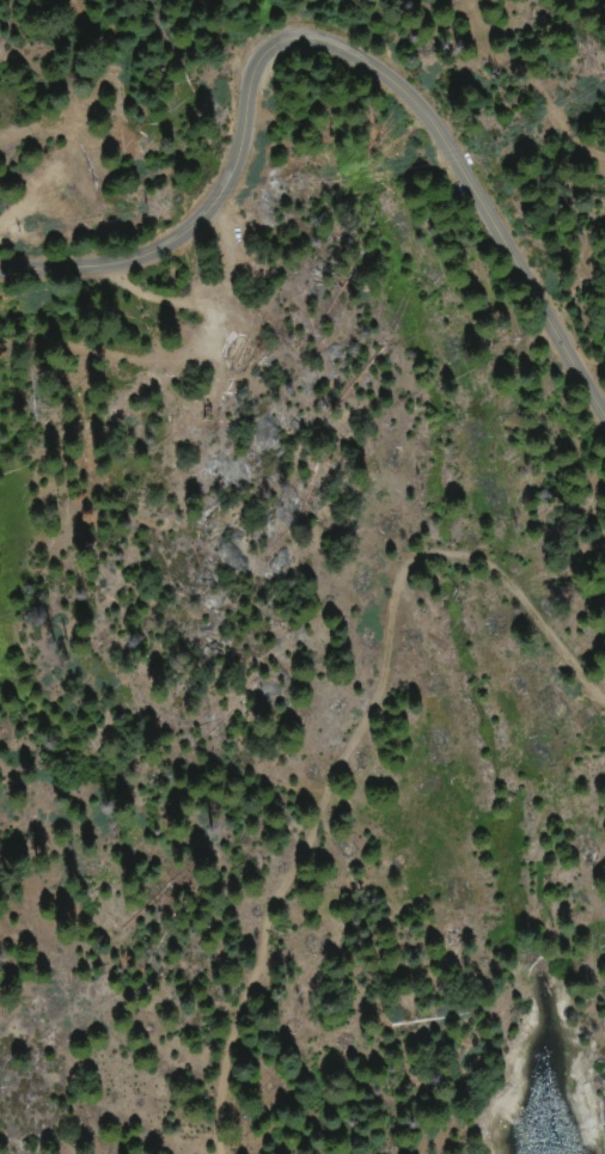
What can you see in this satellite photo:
road: (337, 43)
road: (355, 733)

